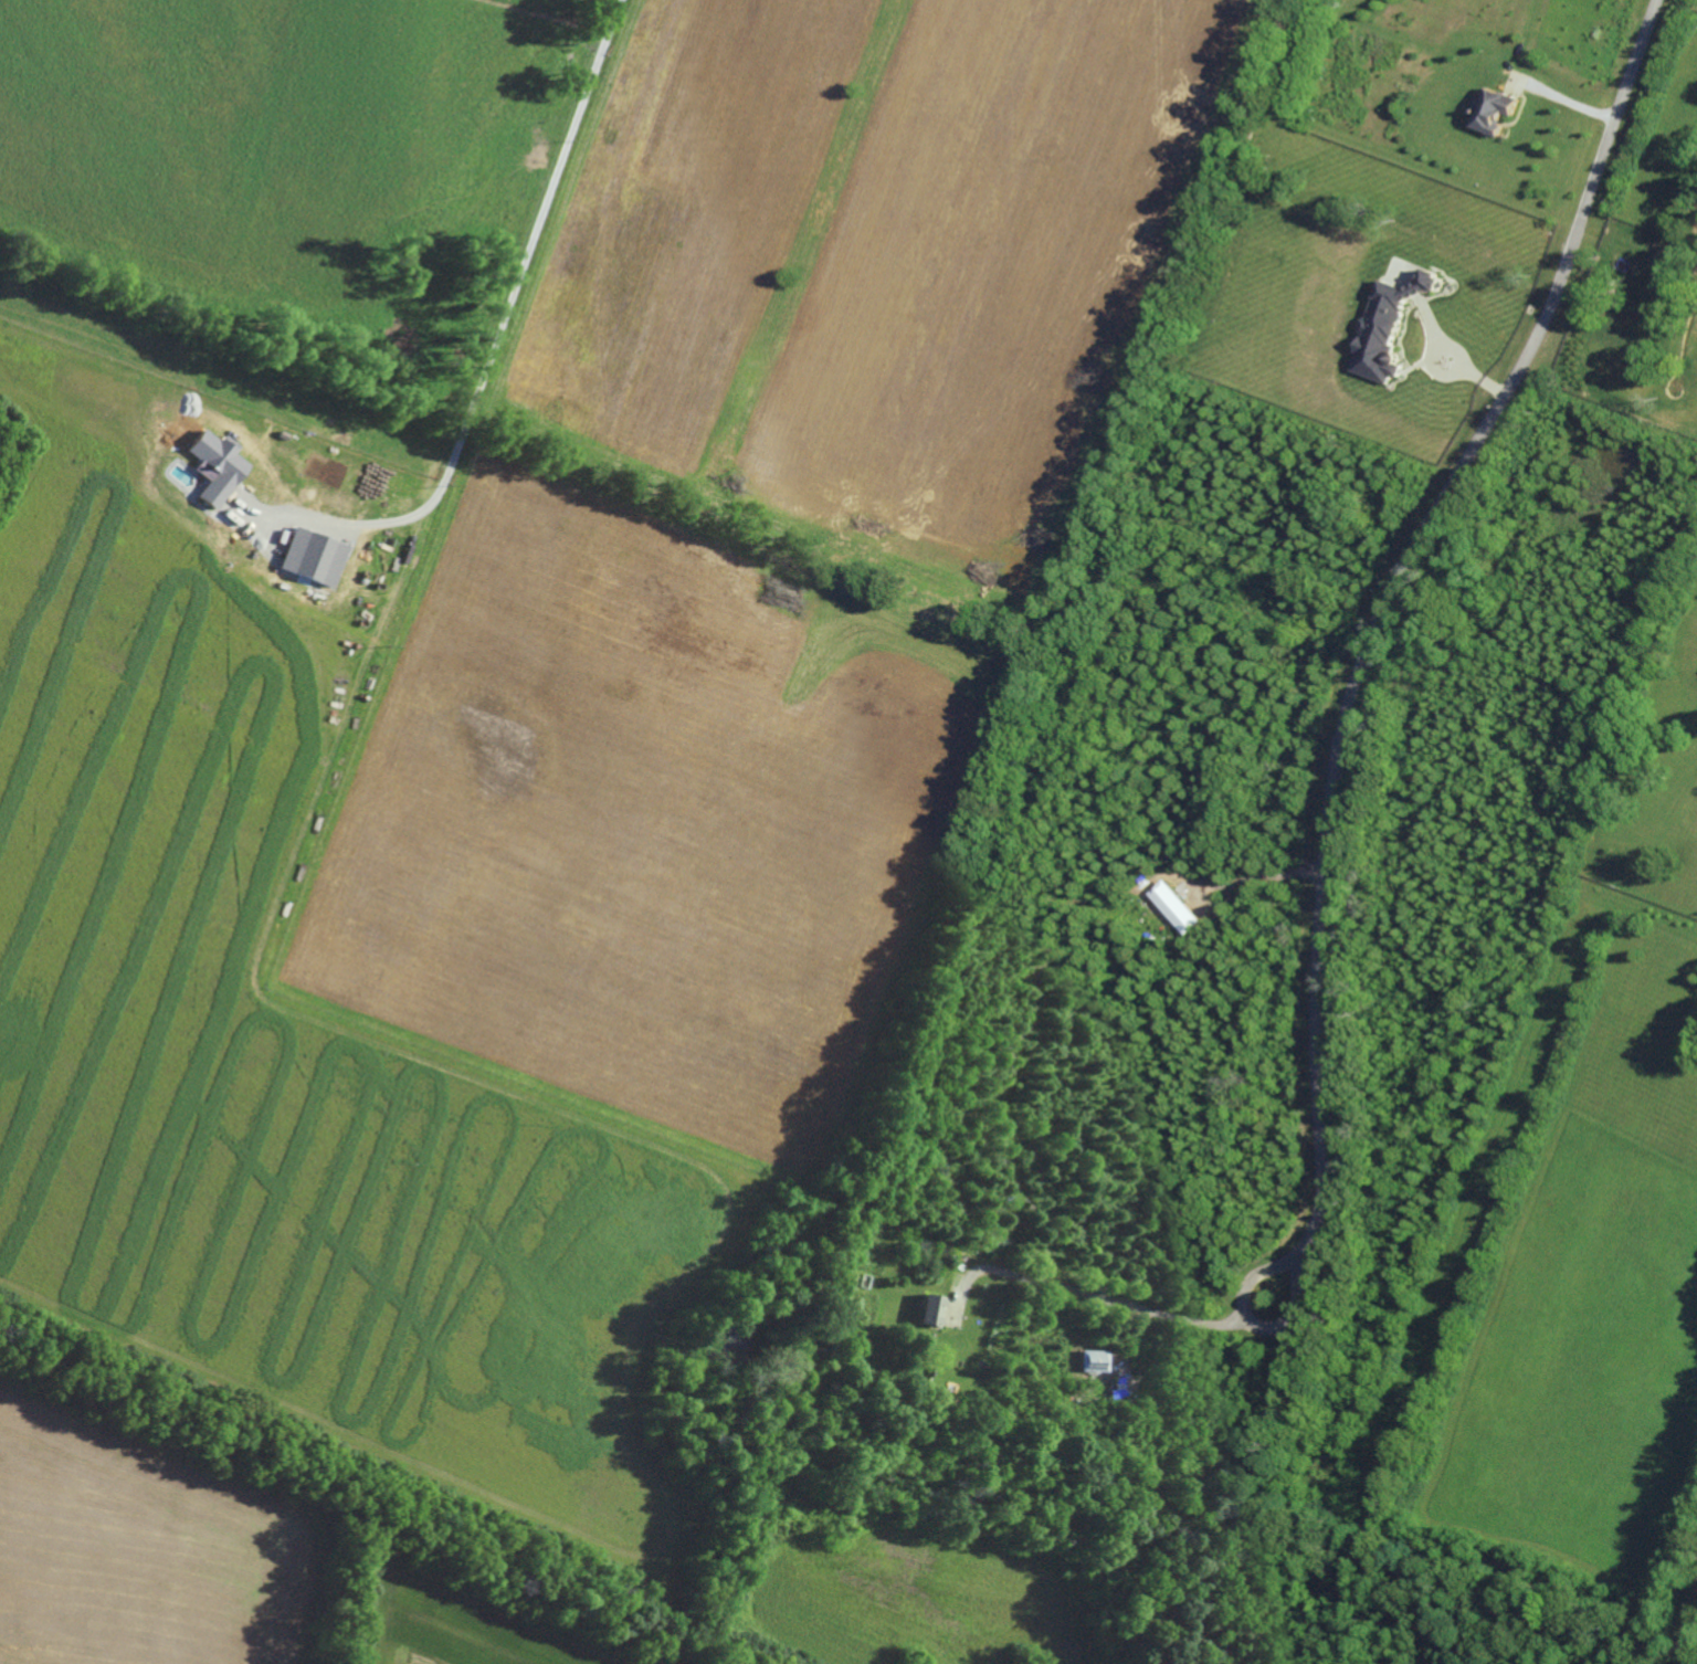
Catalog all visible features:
road: (1563, 99)
building: (1494, 110)
road: (536, 255)
building: (1387, 327)
building: (217, 466)
building: (314, 557)
road: (1384, 605)
building: (1173, 907)
road: (1090, 1289)
building: (932, 1309)
road: (1253, 1325)
building: (1095, 1360)

